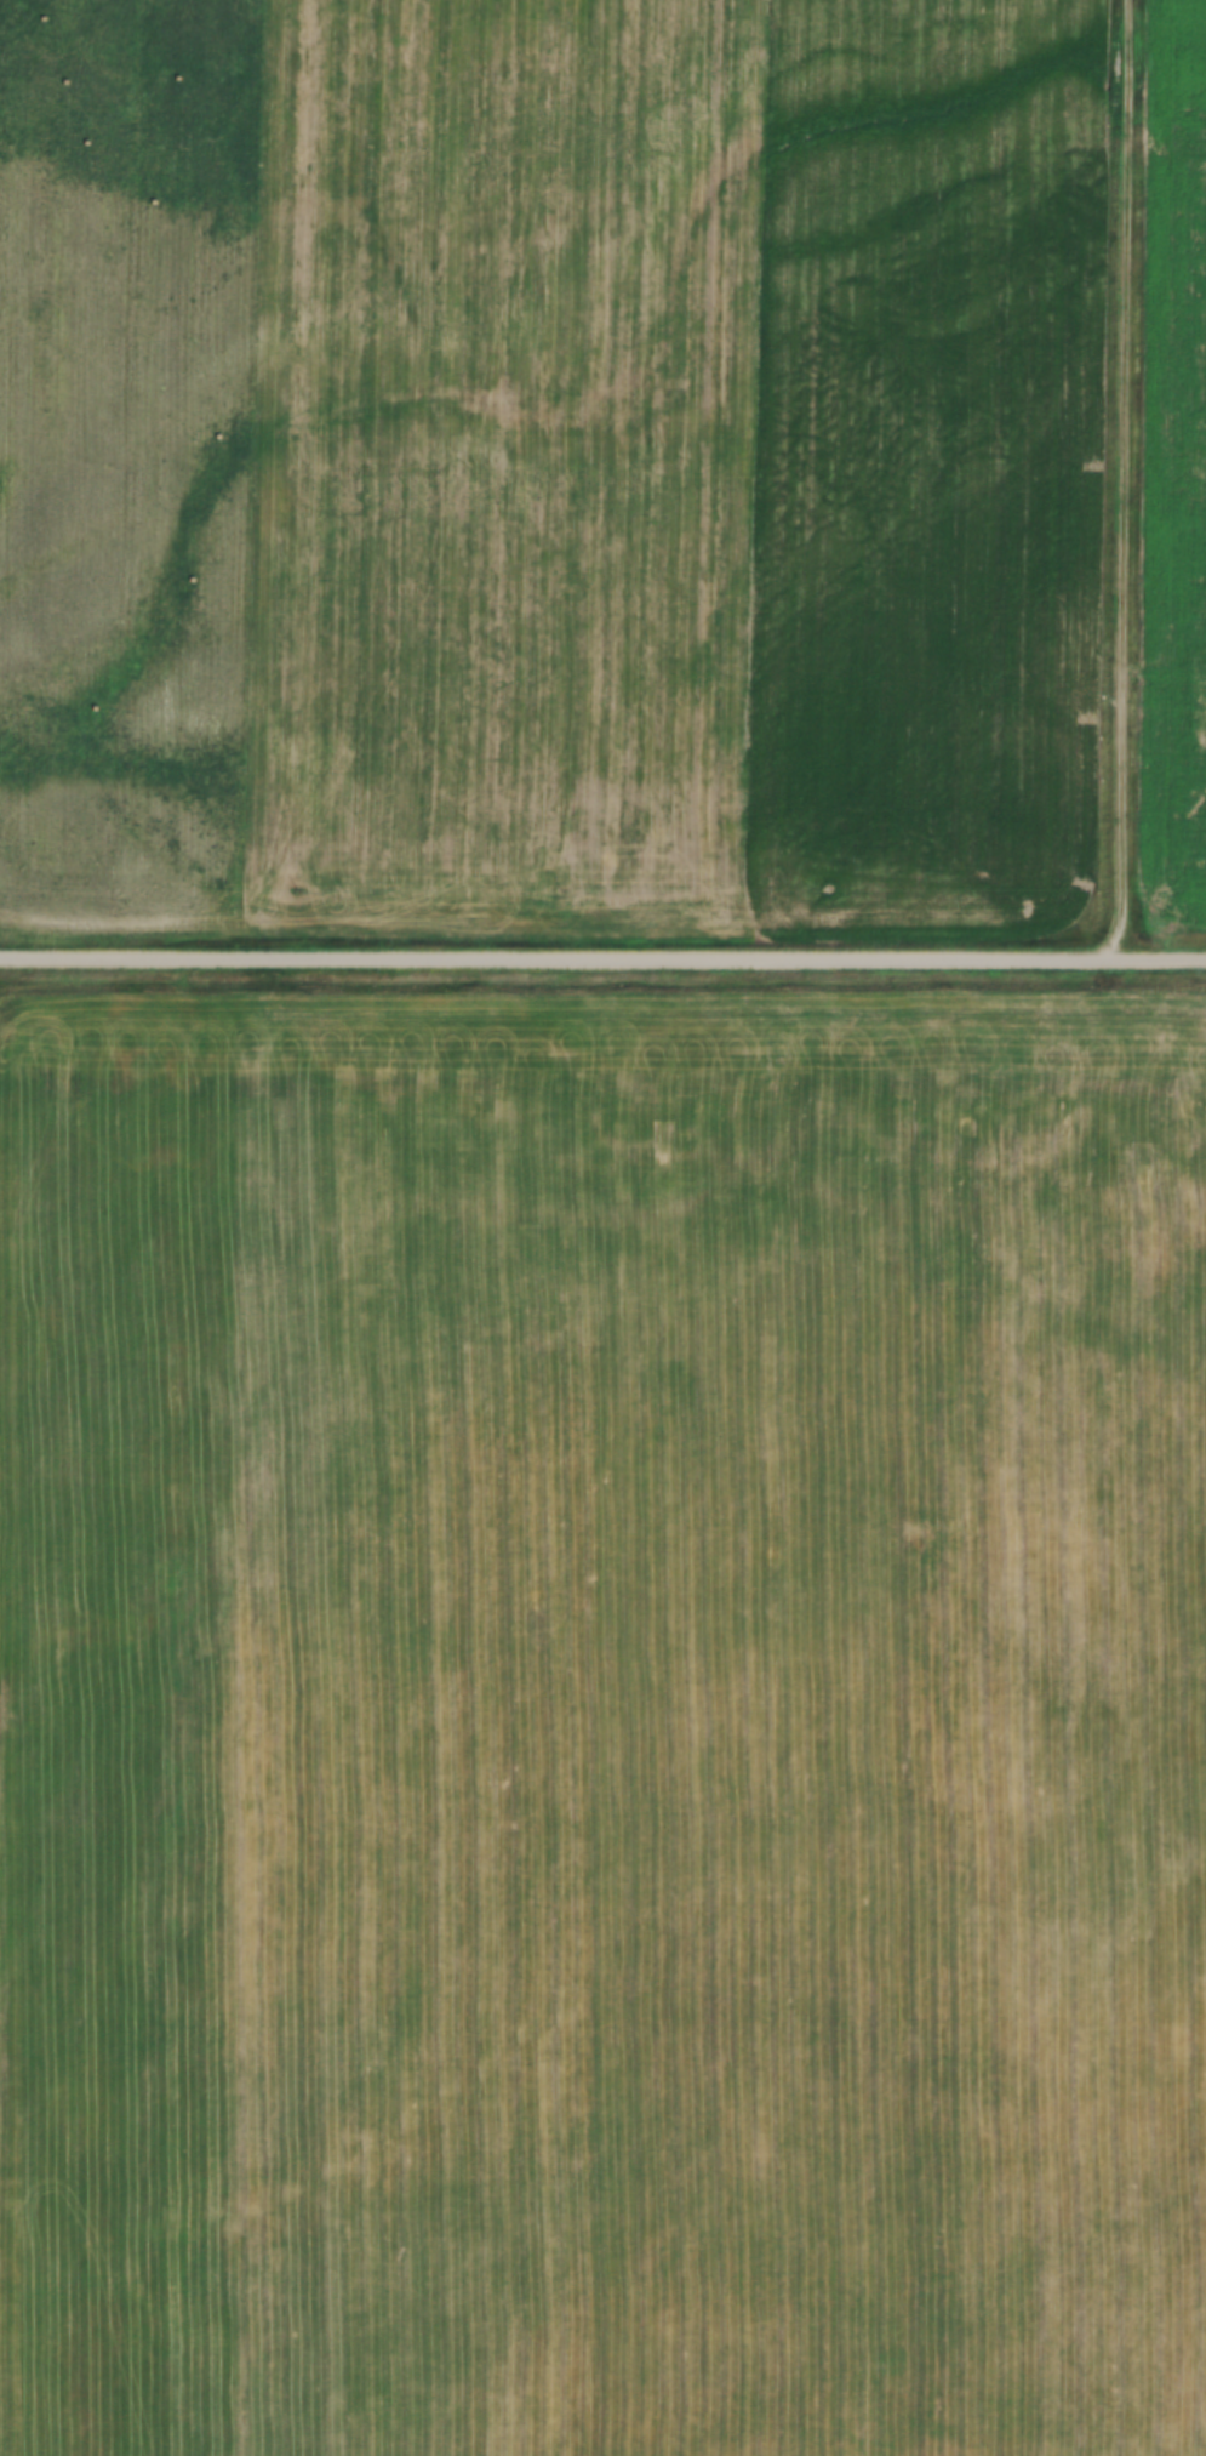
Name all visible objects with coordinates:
road: (1120, 481)
road: (602, 965)

